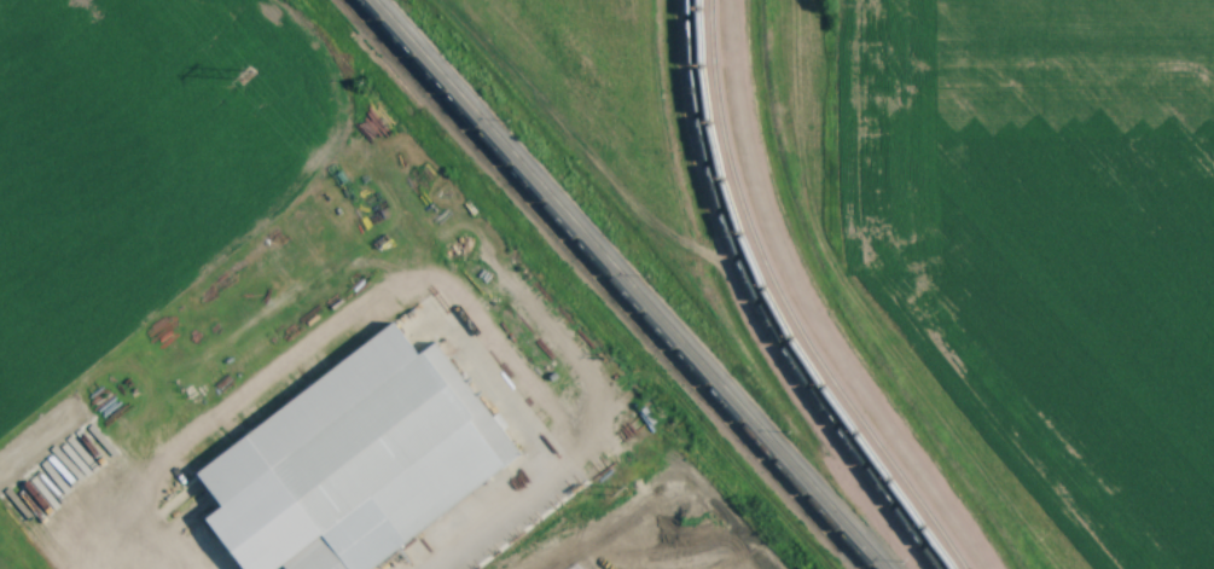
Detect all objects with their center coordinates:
power tower: (250, 79)
railway: (633, 284)
building: (384, 449)
power tower: (622, 490)
road: (527, 492)

